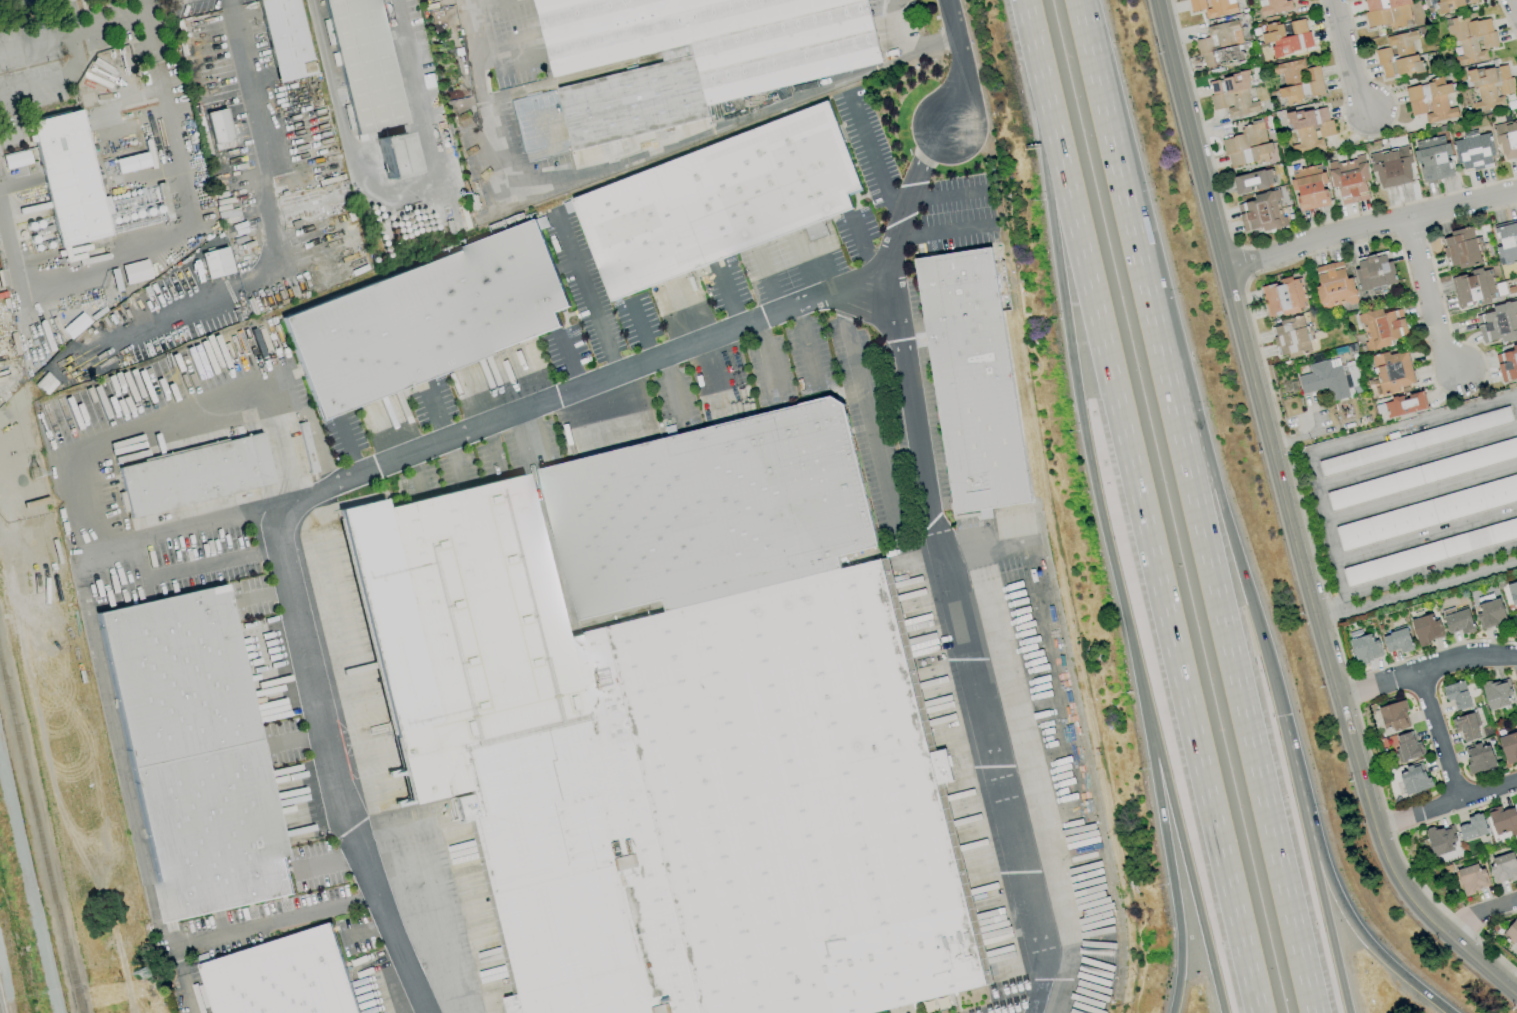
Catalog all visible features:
road: (492, 2)
building: (1453, 4)
road: (1513, 5)
building: (1273, 6)
building: (1213, 7)
building: (1387, 13)
road: (116, 20)
road: (148, 28)
road: (897, 28)
building: (1287, 37)
building: (285, 38)
building: (1471, 38)
road: (36, 40)
building: (1220, 45)
road: (509, 50)
building: (1398, 56)
building: (695, 58)
road: (1344, 58)
building: (364, 64)
road: (963, 64)
road: (65, 69)
building: (1298, 80)
building: (1490, 87)
building: (1232, 95)
building: (1430, 100)
road: (1105, 102)
road: (282, 123)
building: (218, 125)
building: (1309, 129)
building: (1506, 138)
building: (1473, 152)
road: (645, 155)
road: (872, 158)
building: (1433, 158)
building: (1391, 166)
building: (70, 173)
building: (1349, 179)
building: (1253, 181)
building: (1309, 187)
road: (949, 195)
road: (397, 200)
building: (719, 203)
building: (1261, 212)
road: (270, 220)
building: (813, 230)
road: (1370, 230)
road: (945, 232)
building: (1506, 243)
road: (861, 246)
building: (1461, 248)
road: (136, 253)
building: (216, 262)
road: (803, 265)
building: (135, 271)
building: (1374, 272)
road: (768, 281)
building: (1333, 286)
building: (1474, 287)
road: (585, 293)
road: (728, 297)
building: (1283, 297)
road: (1426, 298)
road: (1064, 310)
building: (427, 320)
road: (685, 322)
building: (1498, 323)
building: (1381, 327)
road: (641, 328)
building: (1290, 336)
road: (806, 346)
road: (768, 357)
road: (571, 359)
building: (1507, 364)
building: (1392, 371)
road: (719, 373)
building: (1324, 379)
building: (971, 380)
road: (670, 387)
building: (1404, 404)
road: (866, 409)
road: (435, 411)
road: (94, 435)
road: (1341, 440)
building: (1415, 441)
road: (350, 445)
road: (492, 446)
road: (1418, 457)
road: (455, 458)
road: (1205, 458)
power tower: (33, 466)
road: (417, 471)
building: (1422, 474)
building: (197, 476)
road: (334, 481)
road: (1422, 492)
road: (1142, 506)
building: (1426, 513)
road: (1292, 520)
road: (1427, 534)
building: (1430, 552)
road: (553, 561)
road: (195, 567)
road: (946, 567)
road: (1415, 573)
road: (1418, 590)
road: (268, 594)
building: (1512, 594)
road: (1223, 608)
building: (1490, 614)
building: (1457, 620)
building: (1426, 629)
building: (1397, 641)
building: (1363, 646)
road: (1427, 669)
building: (1497, 693)
building: (1457, 695)
road: (352, 709)
building: (1393, 716)
building: (678, 726)
building: (1466, 726)
road: (1437, 737)
road: (301, 738)
building: (1509, 746)
building: (1407, 747)
building: (203, 755)
building: (1478, 758)
road: (363, 760)
road: (121, 761)
road: (1293, 778)
building: (1413, 778)
road: (1447, 805)
road: (1159, 814)
road: (1173, 815)
building: (1503, 821)
building: (1472, 827)
railway: (40, 835)
building: (1440, 840)
road: (369, 841)
traffic signals: (1309, 841)
building: (1503, 867)
building: (1472, 879)
road: (1481, 917)
road: (275, 923)
road: (1328, 927)
building: (1512, 931)
road: (1361, 939)
power tower: (146, 966)
building: (287, 974)
road: (188, 994)

